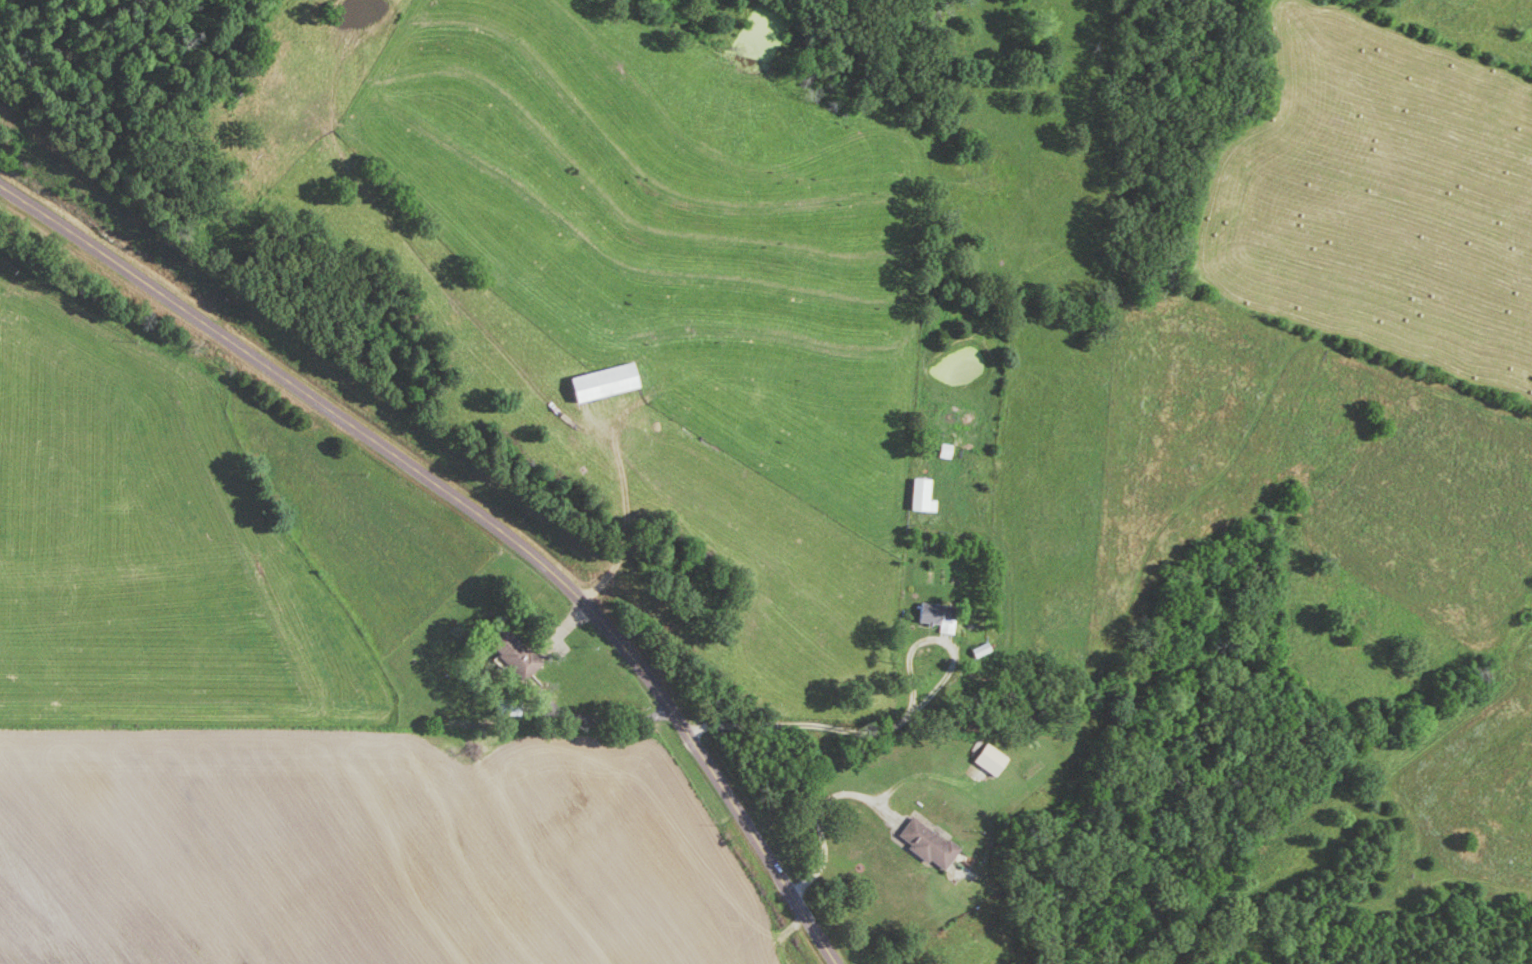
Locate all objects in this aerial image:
building: (611, 384)
building: (941, 454)
building: (916, 499)
road: (477, 515)
building: (1101, 626)
building: (980, 652)
building: (519, 655)
building: (512, 709)
road: (895, 724)
building: (985, 763)
building: (922, 847)

